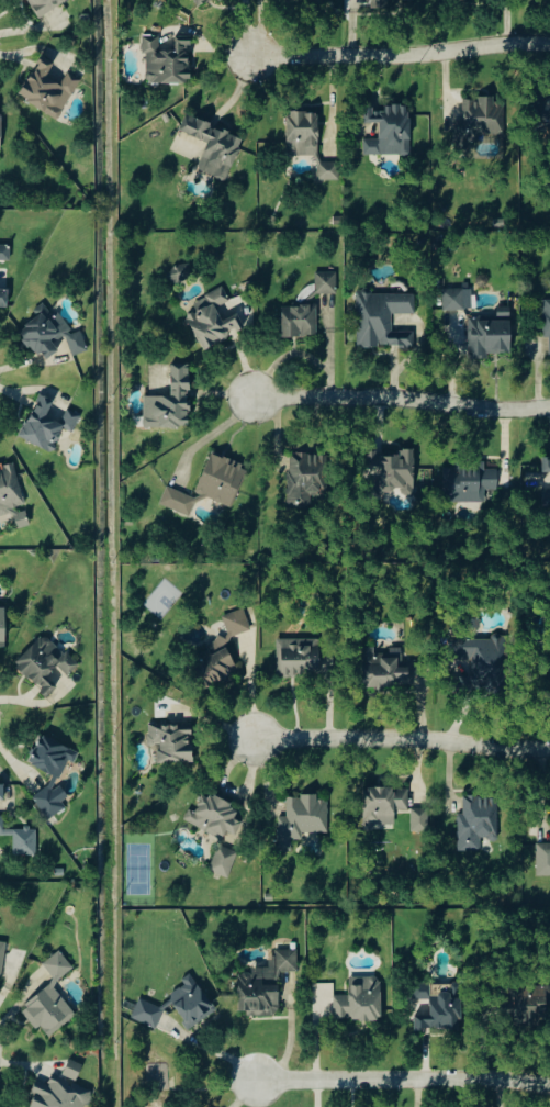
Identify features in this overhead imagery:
building: (221, 0)
building: (201, 1)
building: (46, 5)
road: (397, 56)
building: (168, 60)
building: (49, 89)
building: (545, 110)
building: (391, 132)
building: (304, 134)
building: (215, 147)
building: (329, 171)
building: (5, 250)
building: (181, 273)
building: (327, 281)
building: (4, 297)
building: (454, 298)
building: (383, 317)
building: (547, 317)
building: (214, 318)
building: (301, 320)
building: (52, 333)
building: (491, 336)
road: (404, 399)
building: (172, 401)
building: (48, 424)
building: (547, 465)
building: (395, 468)
building: (306, 476)
building: (470, 482)
building: (211, 484)
building: (10, 488)
building: (547, 495)
building: (237, 623)
building: (3, 625)
building: (482, 652)
building: (300, 656)
building: (217, 662)
building: (46, 663)
building: (386, 668)
road: (397, 739)
building: (173, 741)
building: (57, 778)
building: (384, 804)
building: (216, 816)
building: (303, 818)
building: (420, 819)
building: (479, 821)
building: (543, 850)
building: (225, 861)
building: (2, 957)
building: (266, 984)
building: (361, 999)
building: (527, 1000)
building: (193, 1002)
building: (440, 1007)
building: (148, 1014)
road: (218, 1050)
building: (74, 1070)
road: (404, 1080)
building: (59, 1094)

